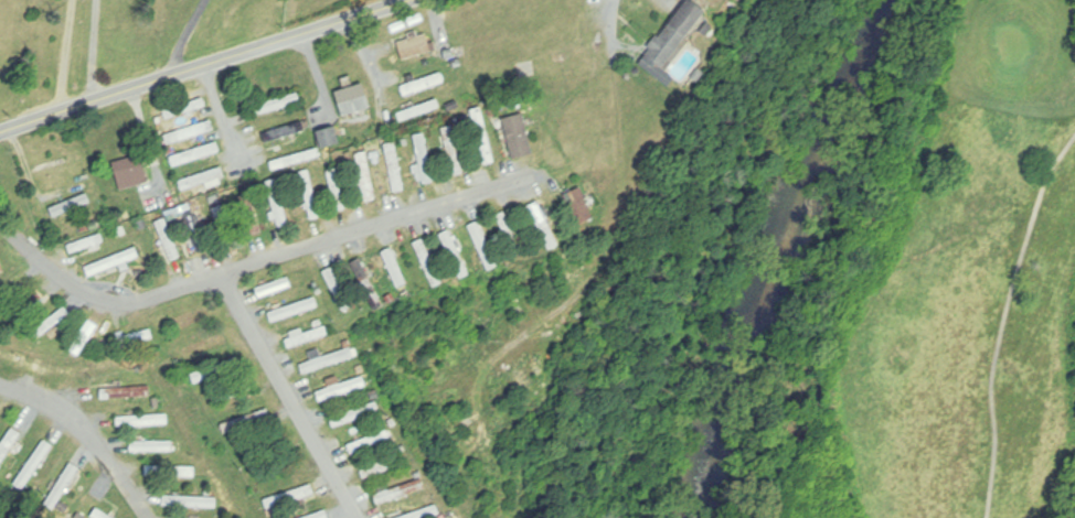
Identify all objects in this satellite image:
road: (190, 33)
building: (673, 36)
building: (414, 45)
road: (95, 50)
road: (67, 54)
road: (369, 58)
road: (206, 65)
building: (681, 67)
road: (319, 69)
building: (423, 85)
building: (353, 99)
building: (277, 105)
building: (185, 109)
building: (419, 110)
road: (224, 115)
building: (190, 132)
building: (285, 132)
building: (328, 136)
building: (482, 136)
building: (518, 136)
building: (453, 150)
building: (202, 152)
building: (295, 160)
building: (394, 166)
building: (130, 172)
building: (365, 176)
building: (202, 180)
building: (336, 190)
building: (309, 195)
road: (620, 201)
building: (278, 204)
building: (575, 205)
building: (248, 215)
building: (224, 225)
building: (194, 230)
building: (168, 239)
building: (85, 244)
river: (780, 249)
building: (456, 252)
building: (111, 262)
road: (259, 262)
building: (427, 262)
building: (394, 267)
building: (1, 268)
building: (368, 284)
park: (954, 285)
building: (274, 289)
building: (338, 289)
building: (573, 305)
building: (294, 310)
building: (51, 323)
building: (84, 336)
building: (307, 336)
building: (327, 361)
building: (214, 371)
building: (341, 389)
building: (236, 391)
building: (125, 393)
road: (290, 396)
building: (355, 414)
building: (142, 421)
building: (245, 422)
road: (89, 434)
building: (370, 442)
building: (9, 445)
building: (151, 447)
building: (34, 466)
building: (380, 467)
building: (185, 472)
building: (276, 472)
building: (62, 486)
building: (400, 492)
building: (288, 497)
building: (190, 501)
building: (423, 511)
building: (99, 515)
building: (318, 515)

